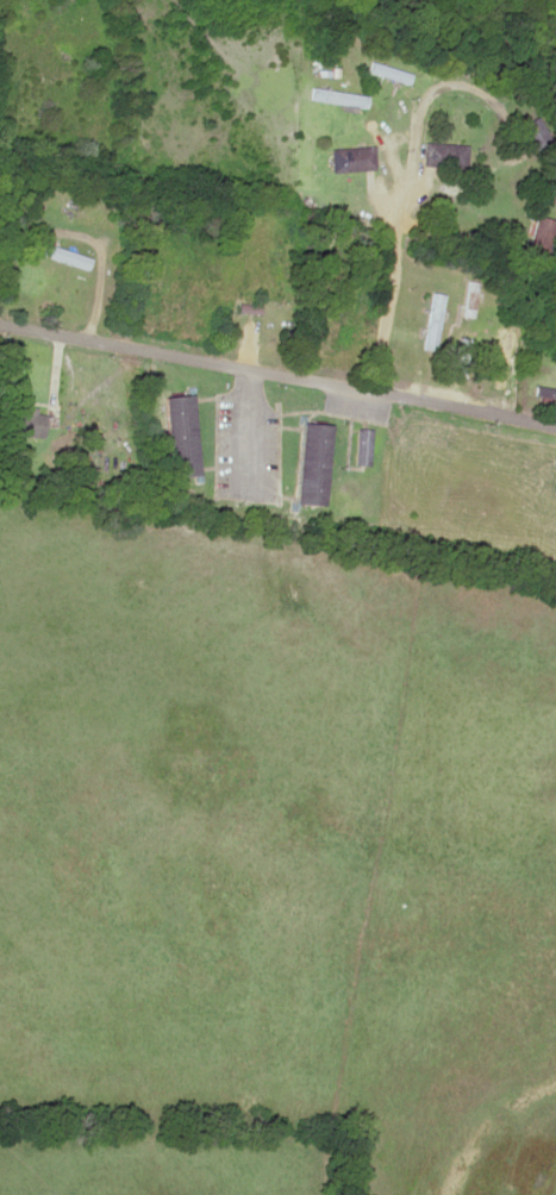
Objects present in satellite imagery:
building: (388, 71)
building: (336, 96)
building: (451, 112)
building: (535, 134)
building: (443, 155)
building: (351, 158)
building: (344, 208)
building: (541, 237)
building: (62, 255)
road: (383, 307)
road: (277, 373)
building: (545, 389)
building: (25, 421)
building: (180, 433)
building: (312, 462)

